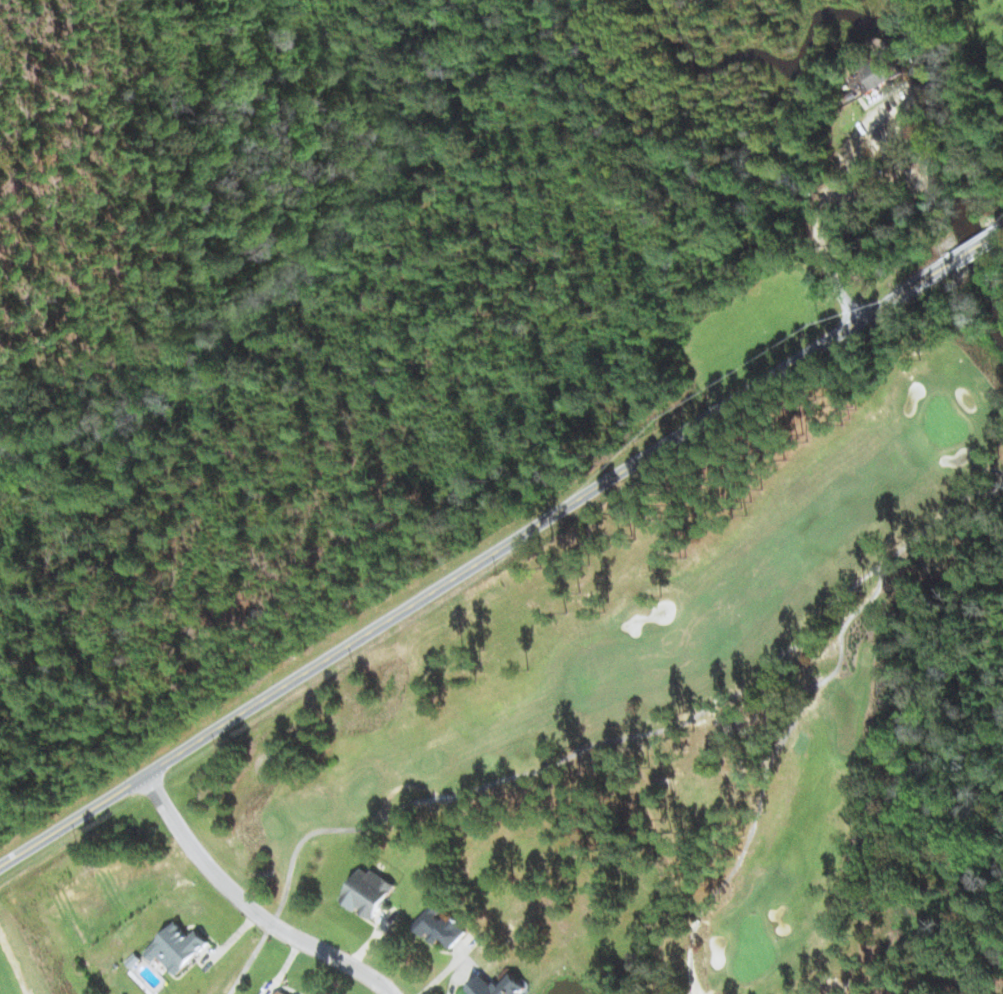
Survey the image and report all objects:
dam: (877, 51)
building: (883, 68)
road: (497, 536)
park: (712, 698)
building: (368, 892)
road: (249, 901)
building: (441, 926)
building: (177, 948)
building: (512, 980)
building: (279, 992)

